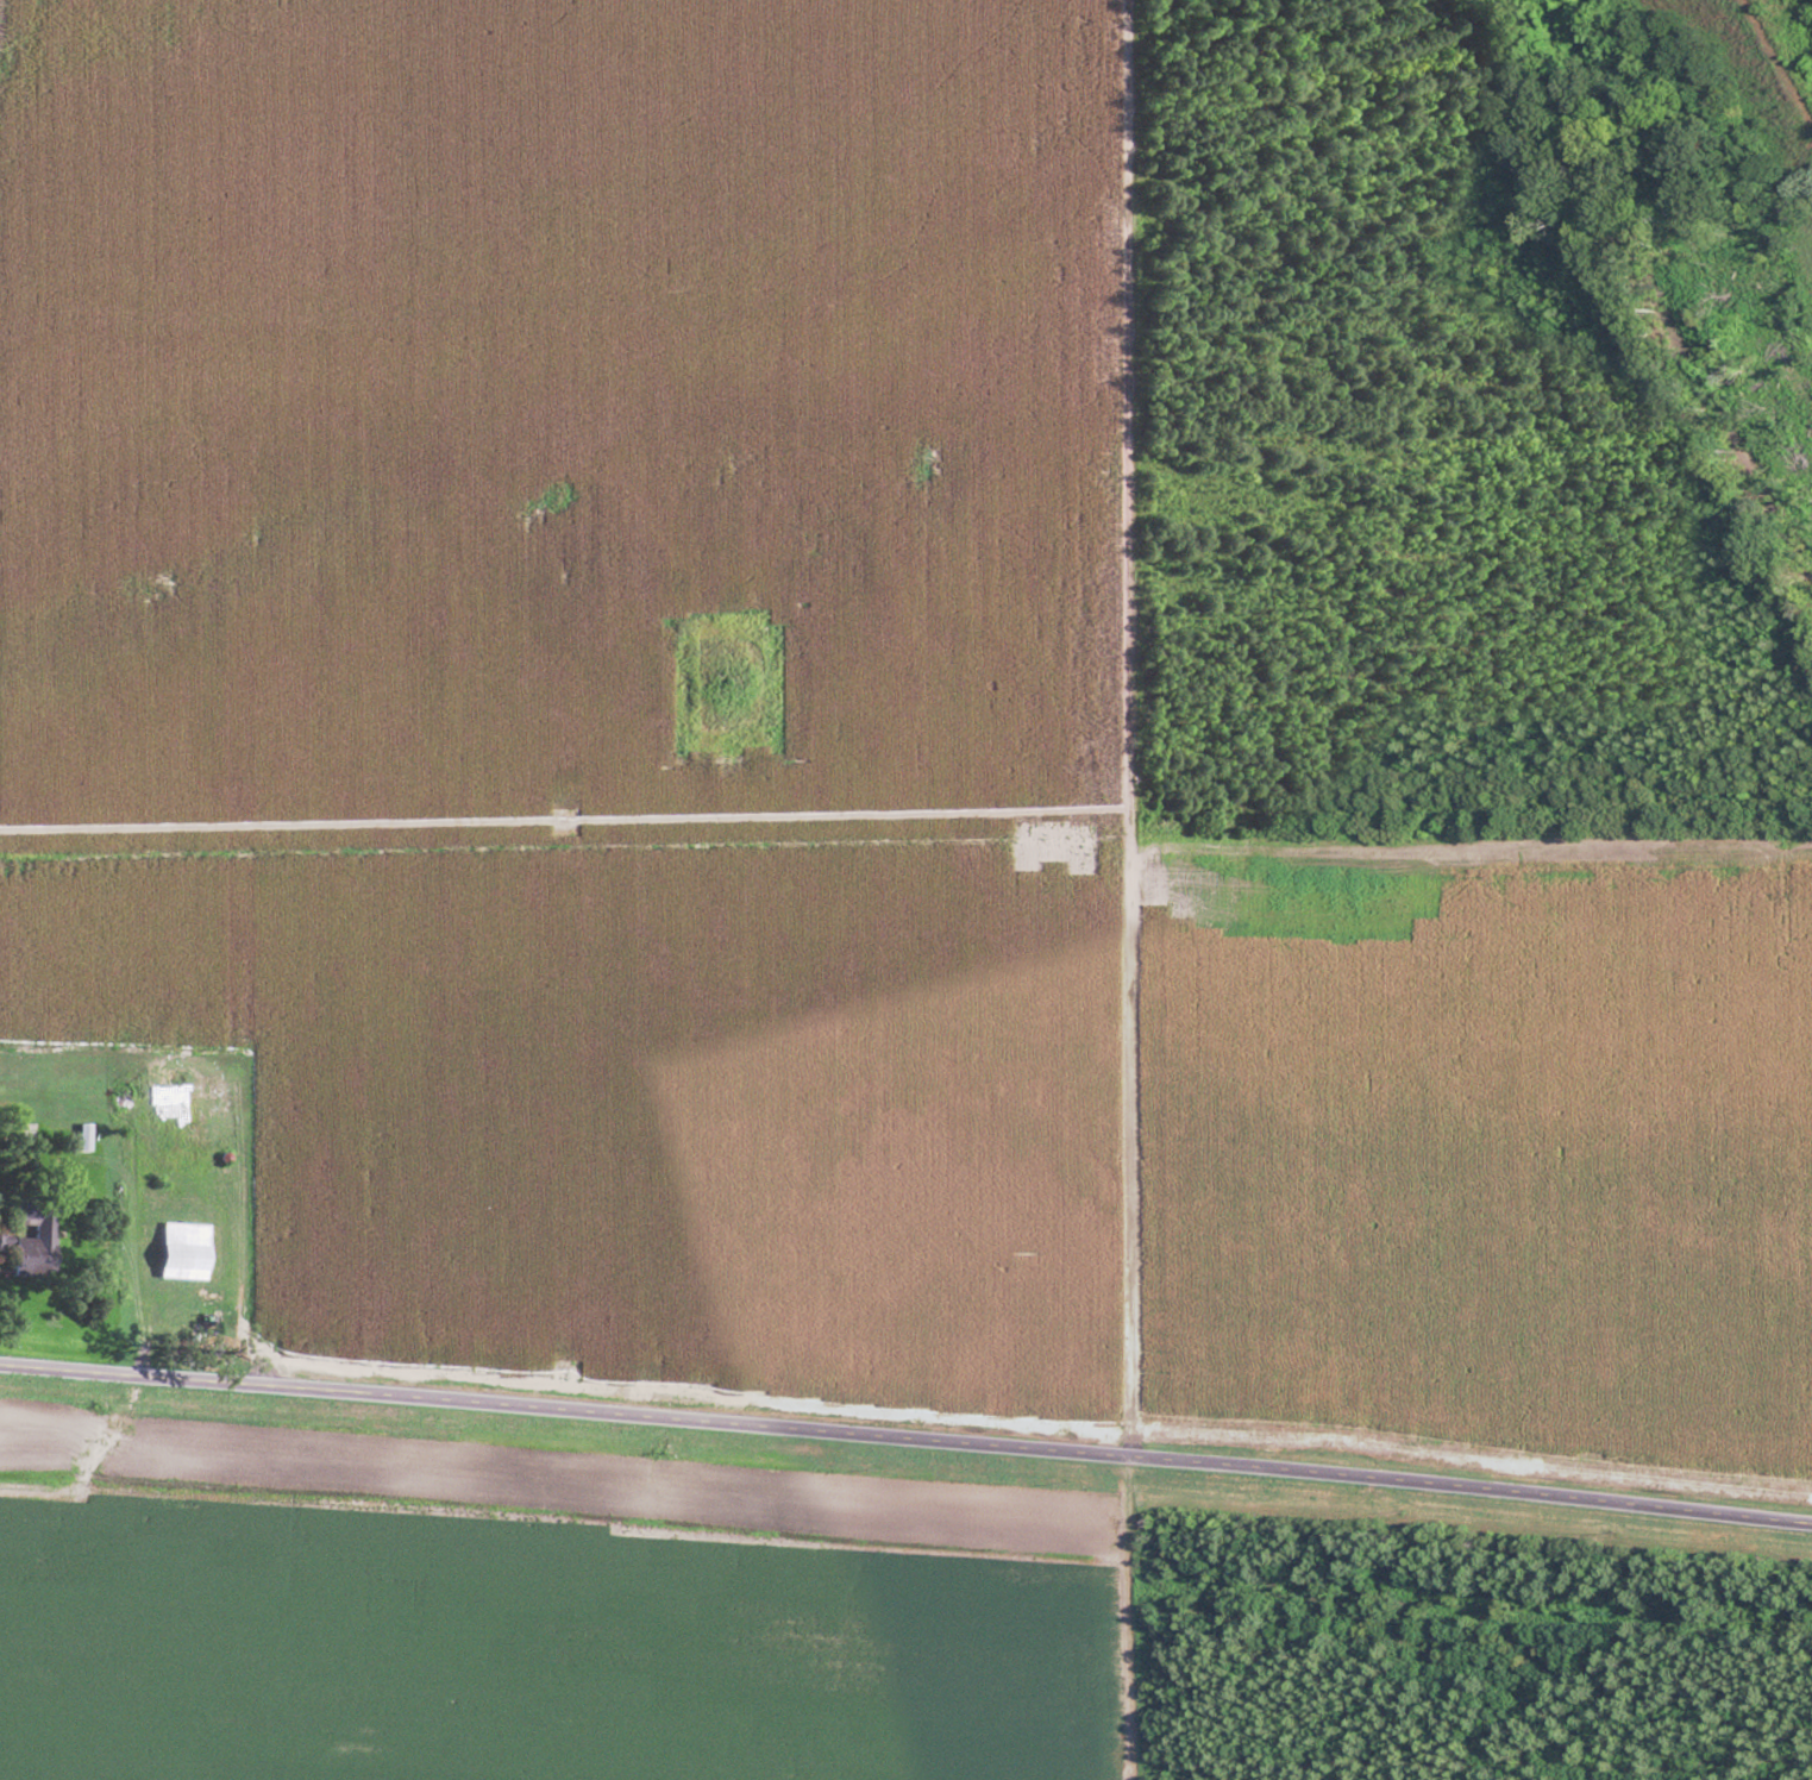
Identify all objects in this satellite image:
road: (1127, 890)
building: (83, 1137)
building: (183, 1252)
road: (907, 1436)

